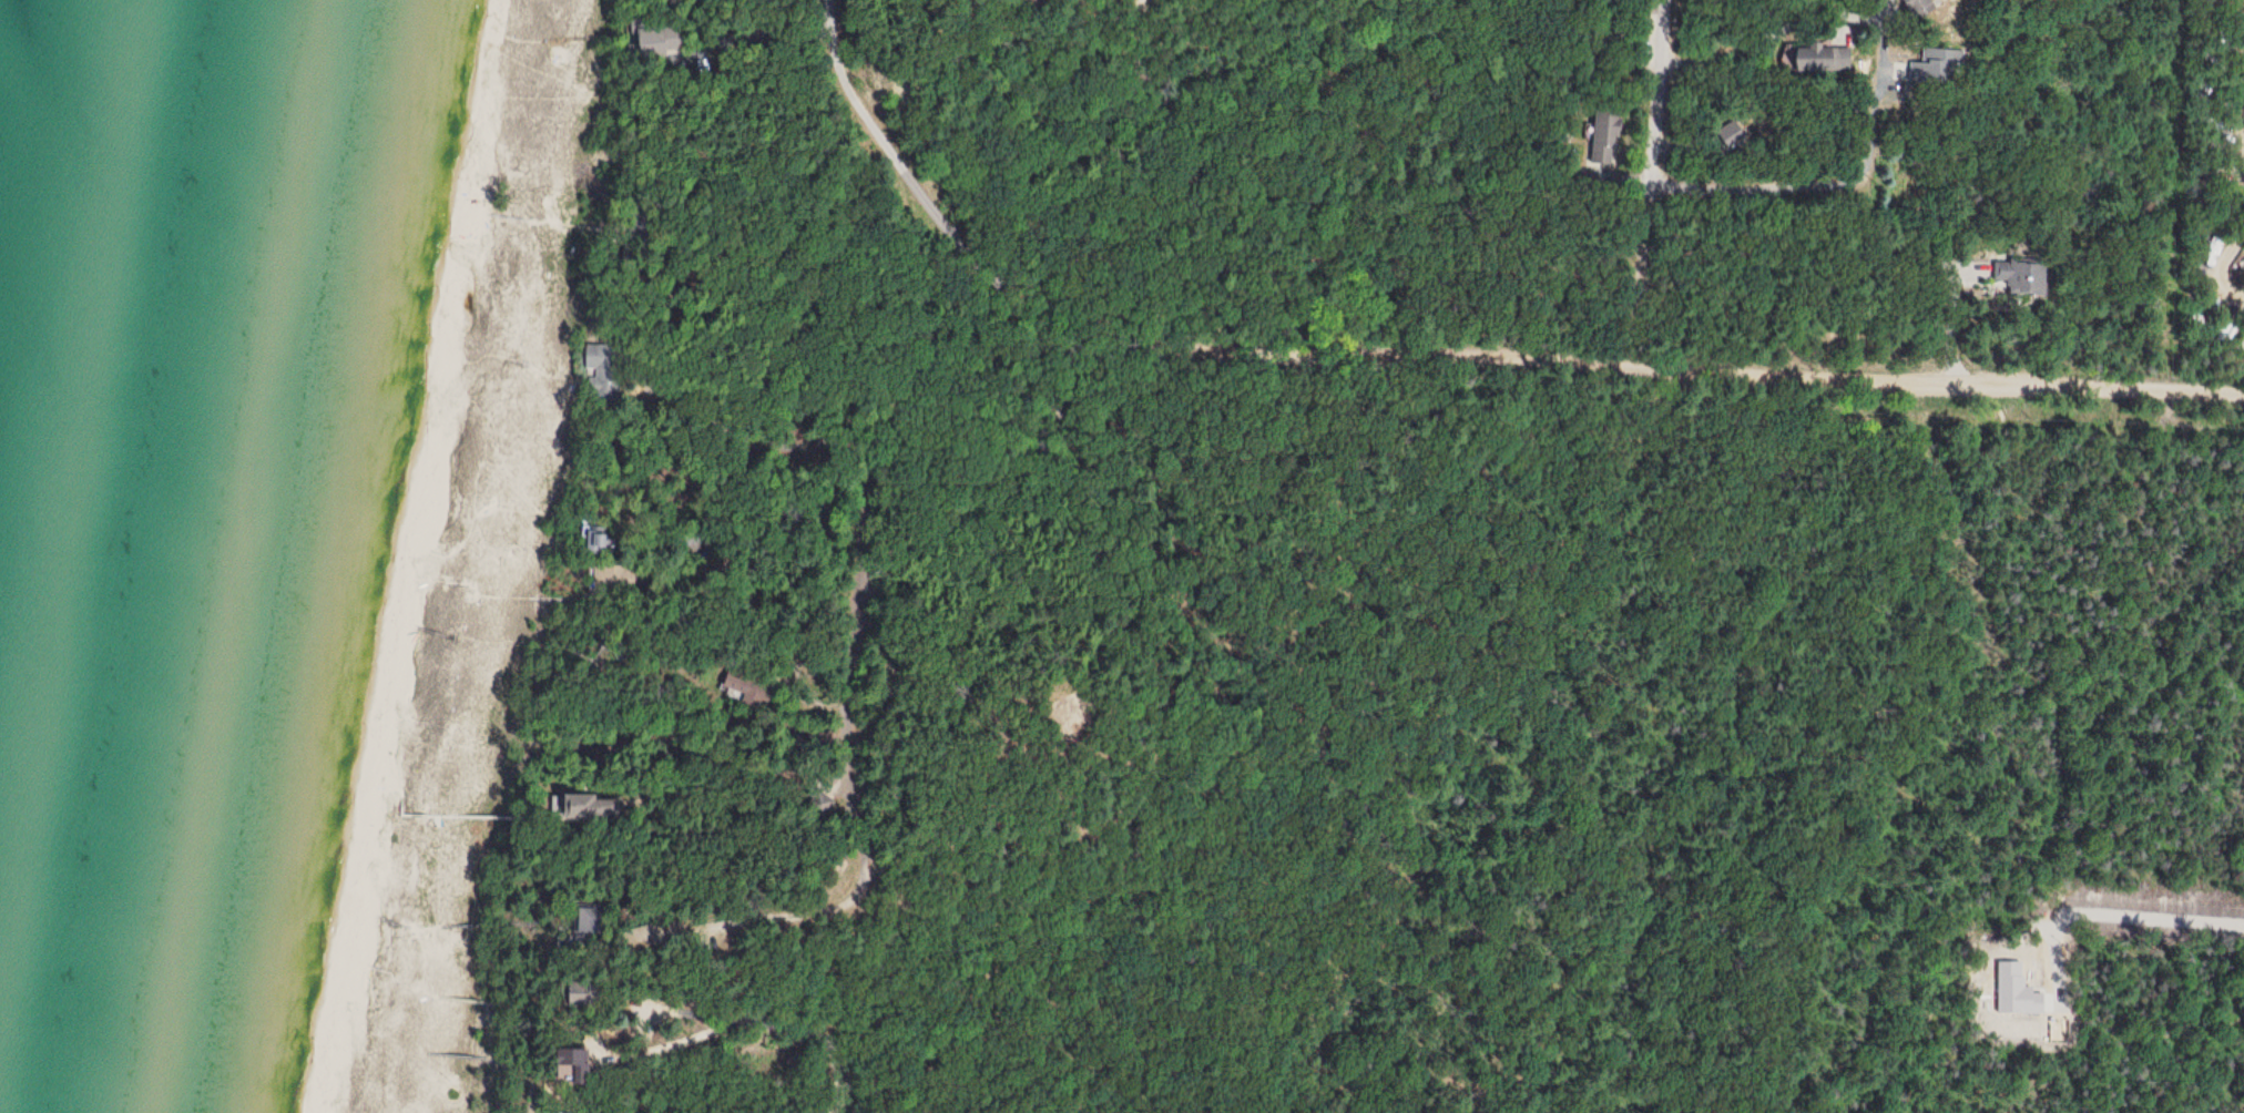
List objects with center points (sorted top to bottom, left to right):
building: (1914, 8)
building: (1944, 55)
building: (1803, 59)
road: (1820, 146)
road: (1640, 183)
road: (931, 197)
road: (2223, 263)
building: (2018, 279)
road: (1674, 368)
road: (890, 455)
building: (598, 541)
building: (582, 806)
road: (777, 1015)
road: (902, 1053)

